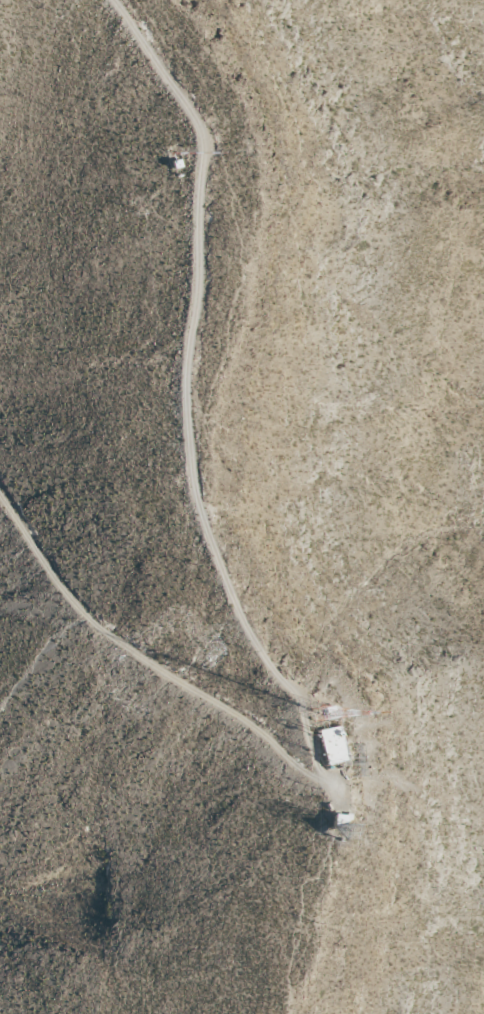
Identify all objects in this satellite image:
road: (168, 384)
road: (136, 657)
building: (303, 745)

